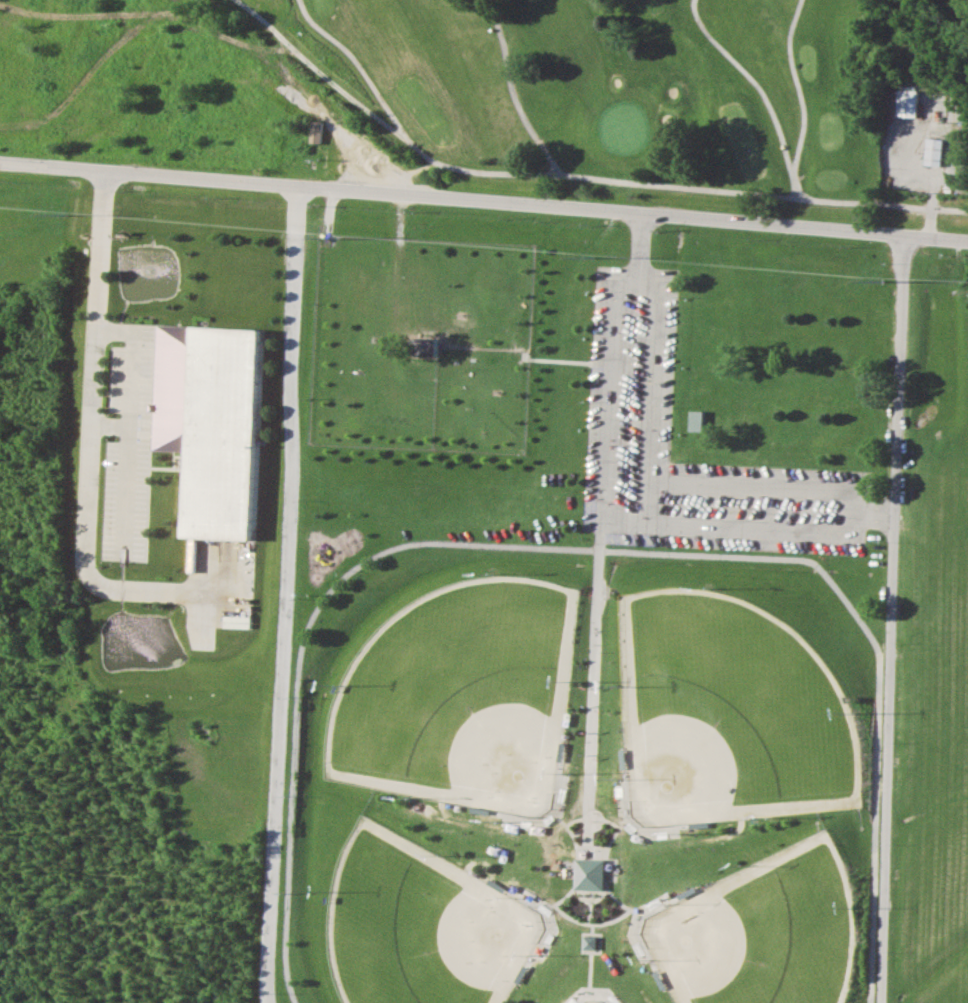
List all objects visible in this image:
park: (646, 90)
building: (907, 103)
building: (317, 131)
building: (934, 152)
road: (932, 199)
road: (483, 200)
building: (431, 346)
building: (698, 420)
road: (129, 422)
building: (214, 423)
road: (110, 425)
road: (91, 433)
road: (630, 490)
road: (584, 550)
road: (283, 594)
road: (895, 616)
park: (621, 620)
park: (466, 696)
park: (738, 715)
road: (592, 742)
road: (623, 806)
road: (612, 822)
road: (532, 825)
road: (649, 834)
building: (591, 874)
road: (581, 892)
road: (647, 907)
road: (589, 915)
park: (425, 926)
park: (770, 933)
road: (635, 936)
building: (591, 943)
road: (585, 951)
road: (590, 982)
road: (603, 993)
park: (594, 1002)

